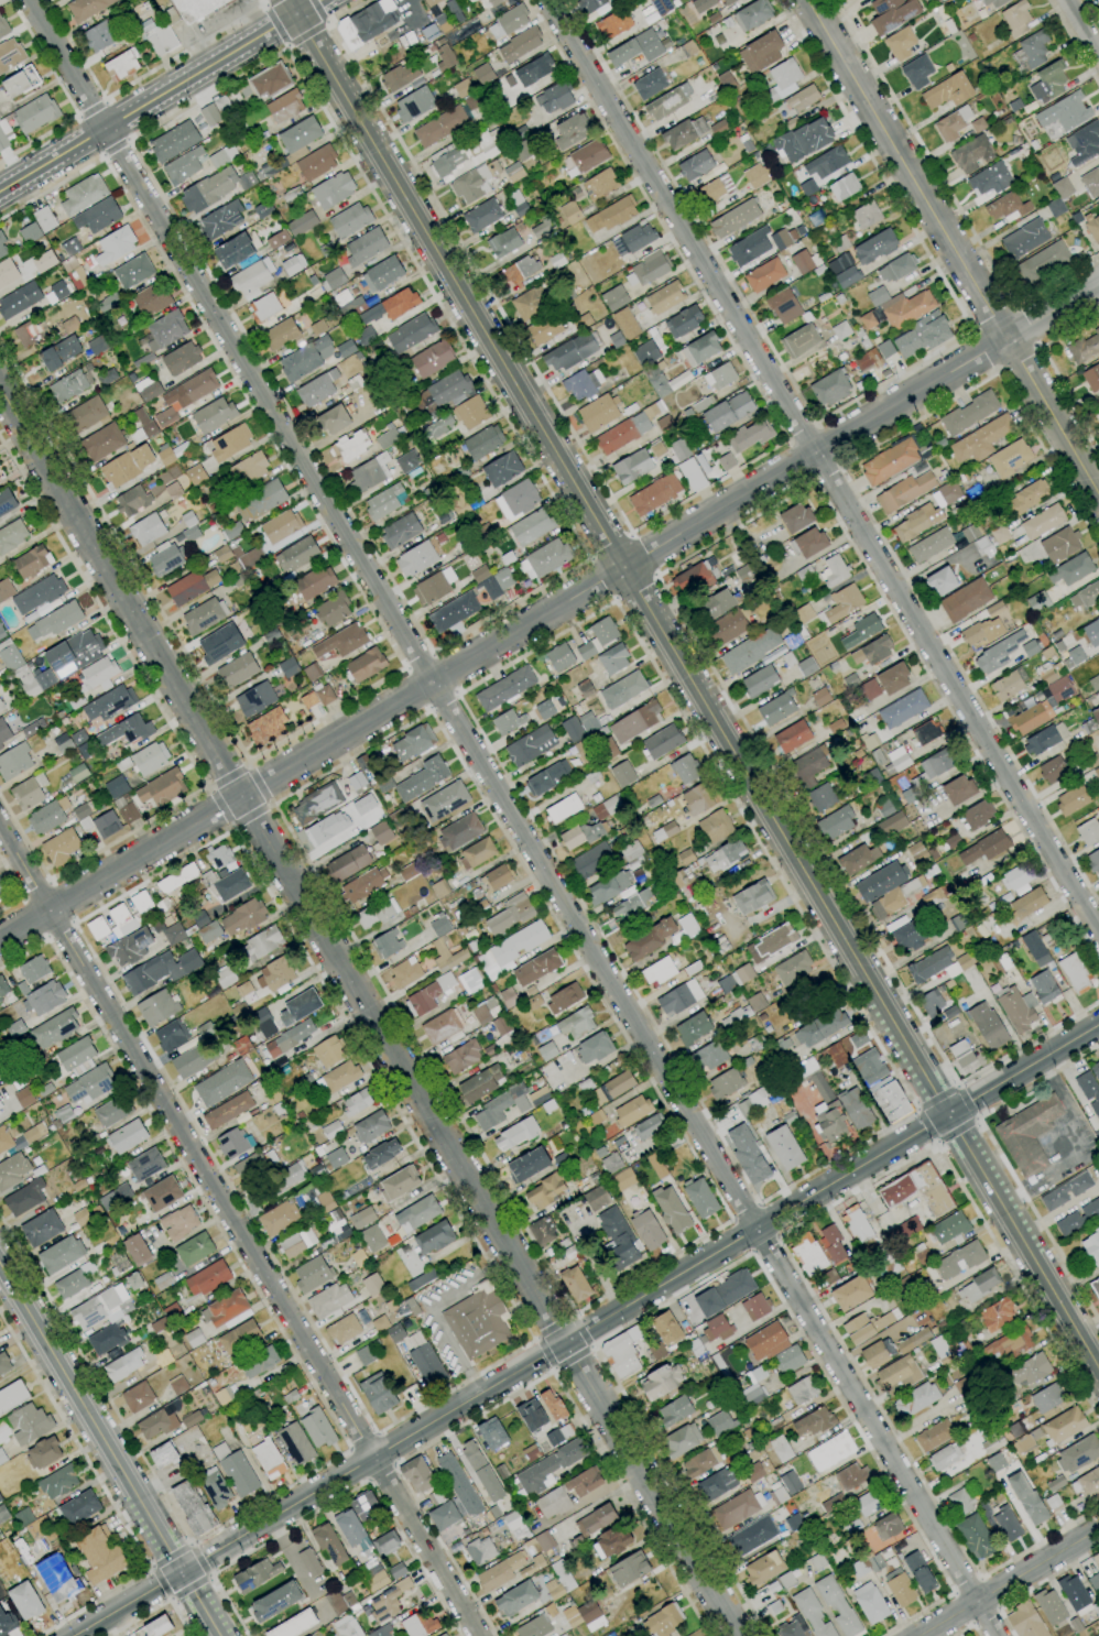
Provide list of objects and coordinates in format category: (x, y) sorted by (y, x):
building: (472, 1)
building: (636, 1)
building: (432, 2)
building: (493, 2)
building: (675, 2)
building: (726, 2)
building: (993, 2)
building: (590, 4)
building: (703, 4)
building: (116, 6)
building: (662, 6)
building: (87, 8)
building: (453, 8)
building: (191, 10)
road: (322, 10)
building: (892, 13)
traffic signals: (295, 14)
road: (1090, 14)
building: (753, 15)
building: (714, 18)
building: (1016, 18)
building: (440, 20)
road: (328, 22)
building: (509, 22)
building: (728, 22)
building: (614, 24)
building: (146, 25)
building: (364, 25)
road: (1082, 26)
building: (3, 28)
road: (307, 32)
building: (431, 32)
building: (100, 35)
building: (971, 37)
building: (160, 39)
building: (521, 44)
building: (901, 44)
road: (1073, 44)
road: (289, 46)
building: (688, 48)
building: (764, 50)
building: (1032, 52)
building: (623, 53)
building: (10, 54)
building: (445, 57)
building: (122, 65)
building: (949, 67)
building: (534, 70)
building: (917, 72)
building: (483, 74)
building: (400, 77)
road: (137, 80)
building: (271, 80)
building: (21, 81)
building: (782, 81)
building: (1048, 81)
building: (650, 84)
building: (728, 84)
building: (997, 84)
building: (464, 88)
building: (948, 91)
road: (159, 95)
road: (67, 97)
building: (555, 97)
building: (803, 98)
building: (472, 101)
building: (725, 101)
building: (668, 102)
building: (221, 103)
building: (415, 105)
building: (1014, 105)
building: (285, 106)
road: (91, 107)
building: (1065, 112)
building: (36, 113)
building: (210, 114)
building: (761, 114)
road: (119, 120)
building: (737, 120)
building: (792, 122)
building: (953, 123)
building: (978, 124)
building: (442, 127)
building: (719, 128)
building: (572, 131)
building: (684, 133)
building: (516, 134)
building: (4, 135)
road: (90, 137)
building: (804, 140)
building: (175, 142)
building: (747, 143)
building: (1086, 143)
building: (293, 145)
road: (117, 150)
building: (523, 150)
building: (466, 153)
building: (757, 154)
building: (972, 154)
building: (589, 155)
building: (222, 156)
building: (316, 162)
building: (827, 162)
building: (185, 165)
building: (696, 165)
building: (514, 172)
building: (758, 175)
building: (990, 179)
building: (1091, 183)
building: (471, 184)
building: (600, 185)
building: (845, 187)
building: (215, 188)
building: (1063, 188)
building: (334, 189)
building: (715, 190)
building: (84, 195)
building: (292, 195)
road: (948, 195)
building: (518, 204)
building: (781, 207)
building: (1008, 208)
building: (1056, 208)
building: (263, 209)
building: (575, 211)
building: (611, 215)
building: (98, 216)
building: (483, 216)
building: (867, 216)
building: (45, 219)
building: (735, 219)
building: (221, 220)
building: (351, 220)
building: (302, 223)
building: (520, 227)
building: (543, 227)
building: (1093, 229)
building: (801, 231)
building: (30, 232)
building: (794, 235)
building: (278, 239)
building: (1025, 239)
building: (634, 240)
building: (781, 240)
building: (504, 243)
building: (839, 244)
building: (2, 246)
building: (116, 246)
road: (953, 246)
building: (70, 247)
building: (366, 247)
building: (750, 247)
building: (874, 247)
building: (235, 250)
building: (327, 250)
building: (44, 261)
building: (557, 261)
building: (805, 261)
building: (1044, 262)
building: (293, 264)
building: (897, 268)
building: (649, 269)
building: (134, 271)
building: (8, 272)
building: (519, 272)
building: (75, 273)
building: (384, 273)
building: (764, 275)
building: (252, 276)
building: (848, 276)
building: (333, 280)
building: (58, 292)
building: (878, 296)
building: (342, 297)
building: (614, 298)
building: (665, 298)
building: (152, 299)
building: (20, 301)
building: (109, 302)
building: (531, 303)
building: (784, 306)
building: (264, 307)
building: (391, 307)
building: (352, 308)
building: (906, 308)
road: (991, 316)
building: (807, 317)
building: (870, 319)
building: (683, 321)
building: (68, 323)
building: (583, 323)
building: (627, 324)
road: (1024, 326)
building: (133, 327)
building: (318, 328)
building: (544, 328)
building: (166, 330)
building: (841, 330)
building: (29, 332)
building: (412, 334)
building: (280, 335)
building: (364, 335)
building: (921, 337)
building: (862, 338)
building: (617, 340)
building: (801, 341)
building: (877, 341)
building: (96, 343)
building: (1084, 348)
building: (346, 349)
building: (700, 349)
road: (983, 349)
building: (885, 350)
building: (570, 351)
building: (646, 353)
building: (58, 355)
building: (182, 358)
road: (1018, 358)
building: (306, 359)
building: (433, 359)
building: (143, 360)
building: (869, 360)
road: (1049, 368)
building: (720, 377)
building: (108, 378)
building: (132, 378)
building: (1091, 378)
building: (665, 381)
building: (355, 383)
building: (583, 384)
building: (68, 385)
building: (149, 388)
building: (831, 388)
building: (317, 389)
building: (185, 395)
building: (437, 395)
building: (130, 401)
building: (704, 404)
road: (844, 405)
building: (1098, 405)
building: (349, 408)
building: (653, 408)
building: (631, 410)
building: (599, 412)
building: (728, 412)
building: (471, 413)
building: (688, 413)
building: (968, 413)
building: (87, 414)
building: (215, 415)
building: (334, 419)
building: (665, 424)
building: (437, 427)
building: (142, 429)
building: (622, 433)
road: (799, 433)
building: (750, 436)
building: (388, 437)
building: (981, 439)
building: (483, 441)
building: (104, 443)
building: (230, 443)
road: (828, 444)
building: (350, 446)
building: (656, 448)
building: (681, 449)
building: (182, 450)
building: (165, 455)
building: (1010, 458)
road: (799, 461)
building: (406, 462)
building: (727, 462)
building: (890, 462)
building: (703, 463)
road: (825, 465)
building: (127, 466)
building: (633, 467)
building: (248, 469)
building: (502, 469)
road: (827, 472)
building: (369, 473)
building: (460, 473)
building: (196, 475)
building: (692, 475)
building: (174, 491)
building: (904, 492)
building: (950, 492)
building: (655, 494)
building: (1027, 497)
building: (518, 499)
building: (261, 500)
building: (457, 500)
building: (7, 501)
building: (133, 501)
building: (385, 502)
building: (214, 506)
building: (795, 517)
building: (188, 519)
road: (655, 519)
road: (871, 519)
building: (917, 522)
building: (1043, 522)
building: (281, 526)
building: (532, 526)
building: (148, 528)
building: (233, 531)
building: (401, 531)
building: (970, 533)
building: (1000, 534)
building: (188, 535)
building: (12, 536)
building: (224, 543)
building: (810, 543)
building: (931, 545)
building: (982, 545)
building: (1060, 545)
road: (609, 547)
building: (222, 553)
building: (297, 554)
road: (644, 554)
building: (247, 556)
building: (166, 558)
building: (416, 558)
building: (508, 558)
building: (546, 559)
building: (33, 561)
building: (235, 567)
building: (1070, 570)
building: (834, 571)
building: (480, 574)
building: (696, 574)
building: (805, 574)
building: (505, 578)
road: (601, 579)
building: (315, 581)
road: (662, 581)
building: (942, 581)
building: (264, 585)
building: (192, 586)
building: (489, 587)
road: (636, 587)
building: (431, 588)
building: (6, 589)
building: (40, 596)
building: (1086, 596)
building: (966, 600)
building: (1038, 602)
building: (841, 604)
building: (715, 606)
building: (334, 609)
building: (994, 610)
building: (454, 611)
road: (548, 612)
building: (204, 615)
building: (280, 615)
building: (802, 615)
building: (30, 617)
building: (56, 620)
building: (729, 625)
building: (862, 631)
building: (982, 631)
building: (2, 632)
building: (1056, 633)
building: (1092, 633)
building: (827, 634)
building: (272, 635)
building: (598, 637)
building: (793, 640)
building: (305, 641)
building: (342, 641)
building: (220, 643)
building: (1063, 644)
building: (1030, 648)
road: (394, 650)
building: (751, 650)
building: (873, 651)
road: (433, 652)
building: (74, 653)
building: (998, 653)
building: (1048, 654)
building: (10, 655)
building: (1076, 655)
building: (559, 657)
road: (417, 659)
building: (613, 659)
building: (788, 659)
building: (364, 665)
building: (1067, 666)
building: (290, 667)
building: (806, 667)
building: (238, 669)
building: (313, 672)
building: (1049, 672)
building: (862, 673)
building: (99, 674)
road: (444, 674)
building: (893, 678)
building: (45, 679)
building: (26, 680)
building: (851, 680)
building: (760, 681)
road: (694, 683)
building: (1095, 683)
building: (1009, 685)
building: (505, 688)
building: (585, 688)
road: (417, 689)
building: (869, 689)
building: (623, 690)
building: (1062, 691)
building: (318, 695)
building: (820, 697)
building: (257, 699)
building: (76, 700)
road: (444, 702)
building: (110, 704)
building: (1, 706)
building: (776, 708)
building: (903, 709)
building: (546, 711)
building: (1096, 716)
building: (1031, 718)
building: (14, 720)
building: (508, 722)
building: (636, 722)
building: (836, 726)
building: (268, 727)
building: (591, 727)
building: (1089, 727)
building: (573, 728)
building: (31, 730)
building: (127, 731)
building: (3, 732)
building: (926, 732)
road: (176, 733)
building: (793, 737)
building: (1047, 740)
building: (869, 741)
building: (414, 742)
building: (662, 742)
building: (63, 743)
building: (527, 745)
building: (605, 746)
building: (87, 749)
building: (585, 751)
building: (151, 757)
building: (878, 757)
building: (899, 760)
building: (14, 762)
building: (939, 762)
building: (1091, 762)
building: (364, 763)
building: (124, 764)
building: (809, 766)
building: (685, 768)
building: (1053, 770)
building: (79, 773)
building: (622, 773)
building: (1096, 773)
road: (228, 775)
building: (548, 778)
building: (871, 778)
building: (418, 779)
building: (357, 781)
road: (260, 784)
building: (117, 786)
building: (162, 788)
building: (959, 789)
building: (29, 792)
building: (823, 797)
building: (445, 800)
building: (697, 800)
building: (1073, 800)
building: (653, 801)
building: (317, 804)
building: (364, 805)
building: (607, 807)
road: (221, 808)
building: (884, 808)
building: (563, 809)
building: (85, 810)
building: (127, 810)
building: (390, 811)
building: (48, 816)
road: (253, 816)
building: (977, 816)
road: (514, 818)
building: (102, 822)
building: (836, 822)
building: (891, 824)
building: (403, 826)
building: (716, 826)
building: (327, 828)
building: (460, 831)
building: (664, 831)
building: (1088, 831)
building: (381, 832)
building: (583, 835)
building: (953, 841)
building: (62, 847)
building: (986, 848)
building: (417, 849)
building: (916, 852)
building: (478, 853)
building: (632, 854)
building: (219, 855)
building: (686, 857)
building: (723, 857)
building: (596, 858)
building: (855, 860)
building: (1093, 862)
building: (348, 863)
building: (410, 871)
building: (931, 872)
building: (221, 873)
building: (499, 876)
building: (177, 879)
building: (208, 879)
building: (1018, 880)
building: (880, 882)
building: (682, 883)
building: (363, 884)
building: (671, 884)
building: (231, 885)
road: (35, 886)
building: (609, 886)
road: (18, 887)
building: (439, 888)
building: (2, 891)
building: (752, 897)
building: (932, 898)
building: (1005, 898)
building: (893, 899)
road: (63, 901)
building: (164, 904)
building: (633, 904)
building: (141, 905)
building: (1026, 905)
building: (481, 906)
building: (512, 913)
building: (378, 914)
building: (120, 915)
building: (244, 917)
building: (202, 920)
building: (959, 923)
building: (440, 926)
building: (688, 926)
building: (98, 928)
building: (460, 930)
road: (62, 931)
building: (170, 931)
building: (209, 931)
building: (117, 932)
building: (911, 935)
building: (650, 939)
building: (1047, 940)
building: (185, 942)
building: (519, 942)
building: (262, 944)
building: (771, 944)
building: (387, 945)
building: (720, 945)
building: (475, 946)
building: (130, 947)
building: (1035, 949)
building: (440, 950)
building: (454, 960)
building: (189, 961)
building: (938, 966)
building: (537, 968)
building: (693, 968)
building: (793, 968)
building: (34, 971)
building: (659, 971)
building: (405, 972)
building: (148, 973)
building: (744, 973)
building: (1074, 973)
building: (276, 974)
building: (226, 977)
building: (472, 980)
building: (493, 988)
building: (1045, 988)
building: (2, 989)
building: (23, 989)
building: (244, 989)
building: (532, 991)
building: (431, 994)
building: (509, 996)
building: (44, 999)
building: (564, 999)
building: (679, 999)
building: (534, 1002)
building: (755, 1002)
building: (931, 1004)
building: (157, 1007)
building: (300, 1007)
building: (1016, 1008)
building: (241, 1010)
building: (487, 1010)
road: (369, 1012)
building: (949, 1012)
building: (736, 1017)
building: (264, 1022)
building: (577, 1023)
building: (443, 1026)
building: (988, 1026)
building: (821, 1027)
building: (17, 1028)
building: (55, 1028)
building: (693, 1028)
building: (206, 1029)
building: (502, 1035)
building: (172, 1036)
building: (290, 1038)
building: (755, 1043)
building: (241, 1045)
building: (596, 1048)
building: (959, 1049)
building: (330, 1051)
building: (548, 1051)
building: (837, 1055)
building: (77, 1056)
building: (709, 1056)
building: (463, 1057)
building: (194, 1060)
building: (8, 1067)
building: (870, 1067)
road: (1023, 1069)
building: (1096, 1069)
building: (282, 1070)
building: (306, 1078)
building: (339, 1078)
building: (222, 1082)
building: (90, 1083)
building: (726, 1083)
building: (480, 1084)
building: (586, 1084)
road: (957, 1086)
building: (613, 1088)
building: (46, 1089)
building: (1089, 1090)
building: (273, 1095)
building: (540, 1095)
building: (24, 1097)
road: (937, 1097)
building: (890, 1100)
building: (752, 1101)
road: (966, 1101)
building: (358, 1102)
building: (830, 1103)
building: (0, 1105)
road: (7, 1105)
building: (549, 1105)
building: (502, 1106)
building: (31, 1108)
building: (279, 1109)
building: (856, 1109)
building: (229, 1110)
road: (917, 1110)
building: (113, 1111)
building: (587, 1111)
building: (633, 1111)
building: (0, 1113)
building: (64, 1114)
traffic signals: (947, 1114)
building: (301, 1115)
building: (597, 1117)
building: (790, 1117)
road: (976, 1117)
road: (926, 1125)
building: (371, 1126)
building: (650, 1126)
building: (333, 1130)
road: (957, 1130)
building: (34, 1133)
building: (518, 1134)
building: (1029, 1134)
building: (1097, 1135)
building: (127, 1136)
building: (7, 1137)
road: (937, 1141)
building: (676, 1142)
building: (233, 1143)
building: (621, 1144)
building: (268, 1146)
building: (784, 1147)
road: (1080, 1147)
building: (601, 1152)
building: (382, 1154)
building: (749, 1154)
building: (337, 1158)
road: (1001, 1158)
building: (562, 1160)
building: (611, 1163)
building: (146, 1165)
building: (254, 1165)
building: (527, 1165)
building: (1098, 1169)
building: (13, 1170)
building: (39, 1170)
building: (319, 1174)
building: (291, 1175)
building: (596, 1178)
building: (625, 1179)
building: (88, 1180)
building: (400, 1184)
building: (79, 1185)
building: (929, 1189)
building: (547, 1190)
building: (897, 1191)
building: (1066, 1191)
building: (162, 1193)
building: (266, 1193)
building: (25, 1197)
building: (115, 1197)
building: (303, 1198)
building: (597, 1198)
building: (700, 1198)
road: (759, 1202)
road: (759, 1204)
building: (1090, 1209)
building: (672, 1210)
building: (418, 1212)
road: (746, 1212)
building: (83, 1217)
building: (279, 1218)
building: (362, 1218)
road: (733, 1219)
road: (768, 1221)
building: (179, 1222)
building: (857, 1224)
building: (1068, 1224)
building: (338, 1225)
building: (42, 1228)
road: (240, 1229)
building: (950, 1229)
building: (543, 1230)
building: (648, 1230)
building: (903, 1231)
road: (743, 1234)
road: (777, 1236)
building: (434, 1237)
building: (373, 1239)
building: (619, 1240)
road: (764, 1242)
building: (297, 1243)
building: (565, 1243)
building: (833, 1243)
road: (785, 1247)
building: (195, 1248)
building: (1091, 1248)
building: (138, 1250)
road: (753, 1251)
building: (570, 1252)
building: (62, 1254)
building: (358, 1254)
building: (808, 1254)
building: (960, 1259)
road: (733, 1261)
building: (119, 1263)
road: (589, 1263)
building: (313, 1274)
building: (830, 1276)
building: (208, 1278)
building: (422, 1279)
building: (163, 1280)
building: (134, 1281)
building: (72, 1284)
building: (576, 1284)
building: (882, 1284)
building: (373, 1285)
building: (900, 1286)
building: (979, 1286)
building: (1095, 1287)
building: (925, 1290)
building: (725, 1293)
building: (852, 1293)
building: (329, 1300)
building: (391, 1306)
building: (757, 1307)
building: (101, 1309)
road: (575, 1312)
building: (936, 1312)
building: (173, 1313)
building: (221, 1315)
road: (574, 1315)
building: (997, 1315)
building: (478, 1320)
building: (381, 1324)
building: (160, 1326)
road: (555, 1327)
building: (866, 1327)
building: (666, 1328)
building: (344, 1329)
building: (718, 1329)
road: (580, 1331)
building: (393, 1333)
building: (239, 1337)
road: (534, 1337)
building: (108, 1339)
building: (768, 1341)
building: (912, 1341)
road: (565, 1343)
building: (1010, 1343)
road: (591, 1345)
building: (696, 1346)
building: (961, 1350)
road: (545, 1351)
building: (943, 1351)
building: (622, 1352)
building: (368, 1353)
building: (878, 1353)
building: (166, 1356)
road: (572, 1356)
building: (790, 1360)
building: (260, 1362)
building: (4, 1363)
building: (124, 1365)
building: (428, 1365)
road: (554, 1368)
building: (1030, 1370)
building: (759, 1373)
building: (227, 1374)
building: (897, 1376)
building: (661, 1381)
building: (178, 1386)
road: (521, 1389)
building: (803, 1389)
building: (379, 1394)
building: (12, 1396)
building: (224, 1396)
building: (292, 1396)
building: (138, 1397)
building: (753, 1397)
building: (1048, 1398)
building: (915, 1400)
building: (714, 1401)
building: (1002, 1401)
building: (554, 1406)
road: (325, 1410)
building: (675, 1410)
building: (532, 1415)
road: (91, 1416)
building: (192, 1420)
building: (815, 1421)
building: (776, 1422)
building: (30, 1424)
building: (157, 1424)
building: (722, 1424)
building: (1064, 1426)
building: (318, 1428)
building: (1016, 1429)
road: (376, 1430)
building: (567, 1431)
road: (376, 1432)
building: (492, 1433)
building: (748, 1433)
building: (935, 1435)
building: (555, 1437)
building: (683, 1440)
road: (362, 1441)
building: (296, 1444)
building: (752, 1444)
building: (993, 1444)
building: (1023, 1444)
building: (779, 1448)
road: (349, 1449)
road: (383, 1449)
building: (531, 1451)
building: (831, 1451)
building: (44, 1452)
building: (737, 1453)
building: (164, 1455)
building: (1076, 1455)
building: (2, 1457)
building: (945, 1458)
building: (269, 1459)
building: (701, 1462)
building: (997, 1462)
road: (359, 1464)
road: (393, 1465)
building: (548, 1468)
building: (753, 1469)
building: (236, 1471)
building: (482, 1471)
building: (502, 1471)
road: (380, 1472)
building: (417, 1475)
building: (852, 1476)
road: (368, 1480)
building: (58, 1482)
building: (791, 1482)
building: (459, 1483)
building: (717, 1484)
building: (1055, 1484)
building: (1088, 1485)
building: (215, 1488)
building: (557, 1492)
road: (108, 1496)
building: (438, 1496)
building: (779, 1496)
road: (336, 1497)
building: (1, 1498)
building: (1027, 1499)
building: (961, 1502)
building: (833, 1503)
building: (870, 1503)
building: (1054, 1504)
building: (364, 1506)
building: (79, 1508)
building: (194, 1508)
building: (737, 1508)
building: (3, 1514)
building: (986, 1515)
building: (445, 1516)
building: (24, 1517)
building: (595, 1522)
building: (794, 1523)
building: (1008, 1524)
building: (516, 1526)
building: (888, 1526)
building: (349, 1527)
building: (803, 1531)
building: (754, 1535)
building: (65, 1536)
building: (976, 1537)
building: (545, 1541)
building: (530, 1542)
road: (191, 1544)
building: (329, 1544)
building: (387, 1544)
building: (611, 1544)
building: (480, 1551)
building: (100, 1555)
road: (171, 1556)
road: (198, 1560)
building: (308, 1562)
building: (818, 1562)
building: (875, 1563)
building: (533, 1566)
road: (151, 1567)
building: (764, 1568)
building: (860, 1568)
building: (630, 1569)
building: (398, 1571)
traffic signals: (184, 1572)
building: (501, 1572)
building: (918, 1572)
building: (564, 1574)
building: (257, 1575)
road: (209, 1577)
road: (980, 1578)
building: (59, 1580)
building: (787, 1580)
building: (377, 1581)
road: (162, 1582)
road: (1009, 1582)
building: (1095, 1582)
road: (968, 1585)
road: (1035, 1585)
road: (189, 1586)
building: (900, 1586)
building: (774, 1588)
building: (554, 1590)
road: (955, 1591)
road: (988, 1593)
building: (1075, 1595)
road: (171, 1599)
building: (516, 1599)
building: (25, 1601)
building: (389, 1601)
building: (275, 1602)
road: (129, 1603)
building: (337, 1603)
building: (871, 1603)
road: (203, 1604)
road: (157, 1606)
building: (838, 1606)
road: (964, 1606)
building: (1051, 1606)
building: (774, 1607)
road: (997, 1608)
building: (588, 1611)
building: (627, 1612)
building: (813, 1613)
road: (983, 1614)
building: (572, 1616)
building: (664, 1621)
building: (1026, 1621)
building: (7, 1623)
road: (971, 1623)
building: (295, 1625)
building: (420, 1625)
building: (1076, 1625)
building: (157, 1626)
building: (347, 1626)
road: (968, 1626)
building: (535, 1627)
building: (794, 1627)
building: (381, 1630)
building: (132, 1635)
building: (445, 1635)

